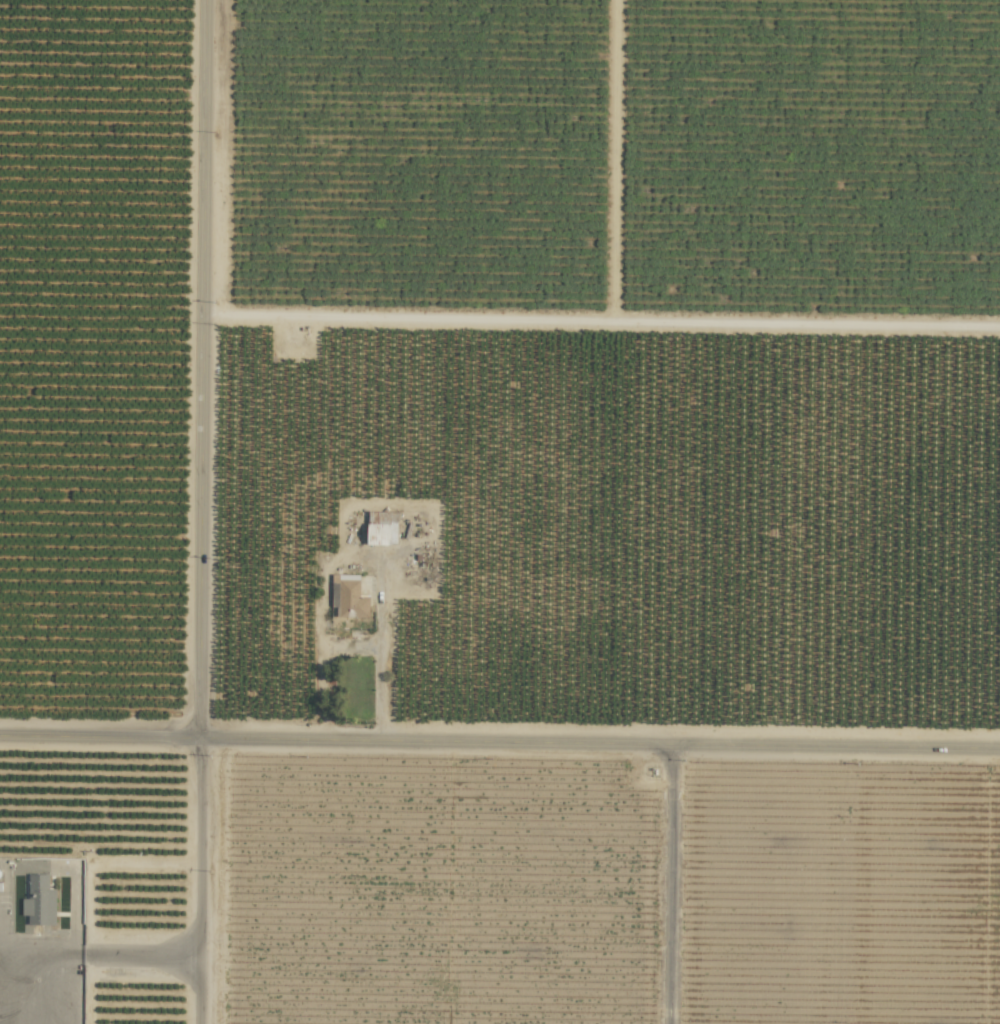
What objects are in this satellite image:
road: (203, 512)
building: (381, 528)
building: (348, 596)
road: (381, 666)
road: (500, 745)
road: (672, 888)
building: (39, 901)
road: (111, 952)

